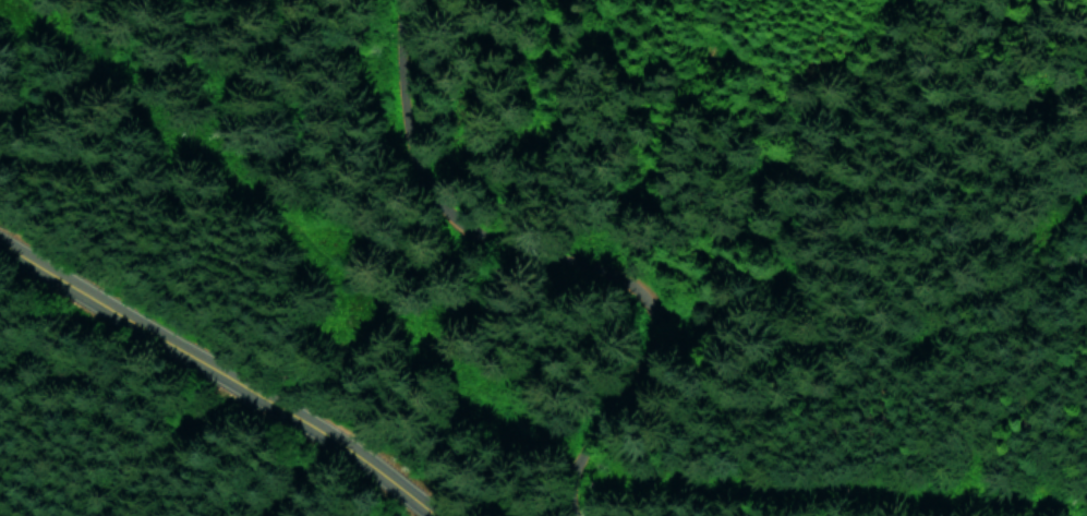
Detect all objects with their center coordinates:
road: (545, 259)
road: (215, 373)

